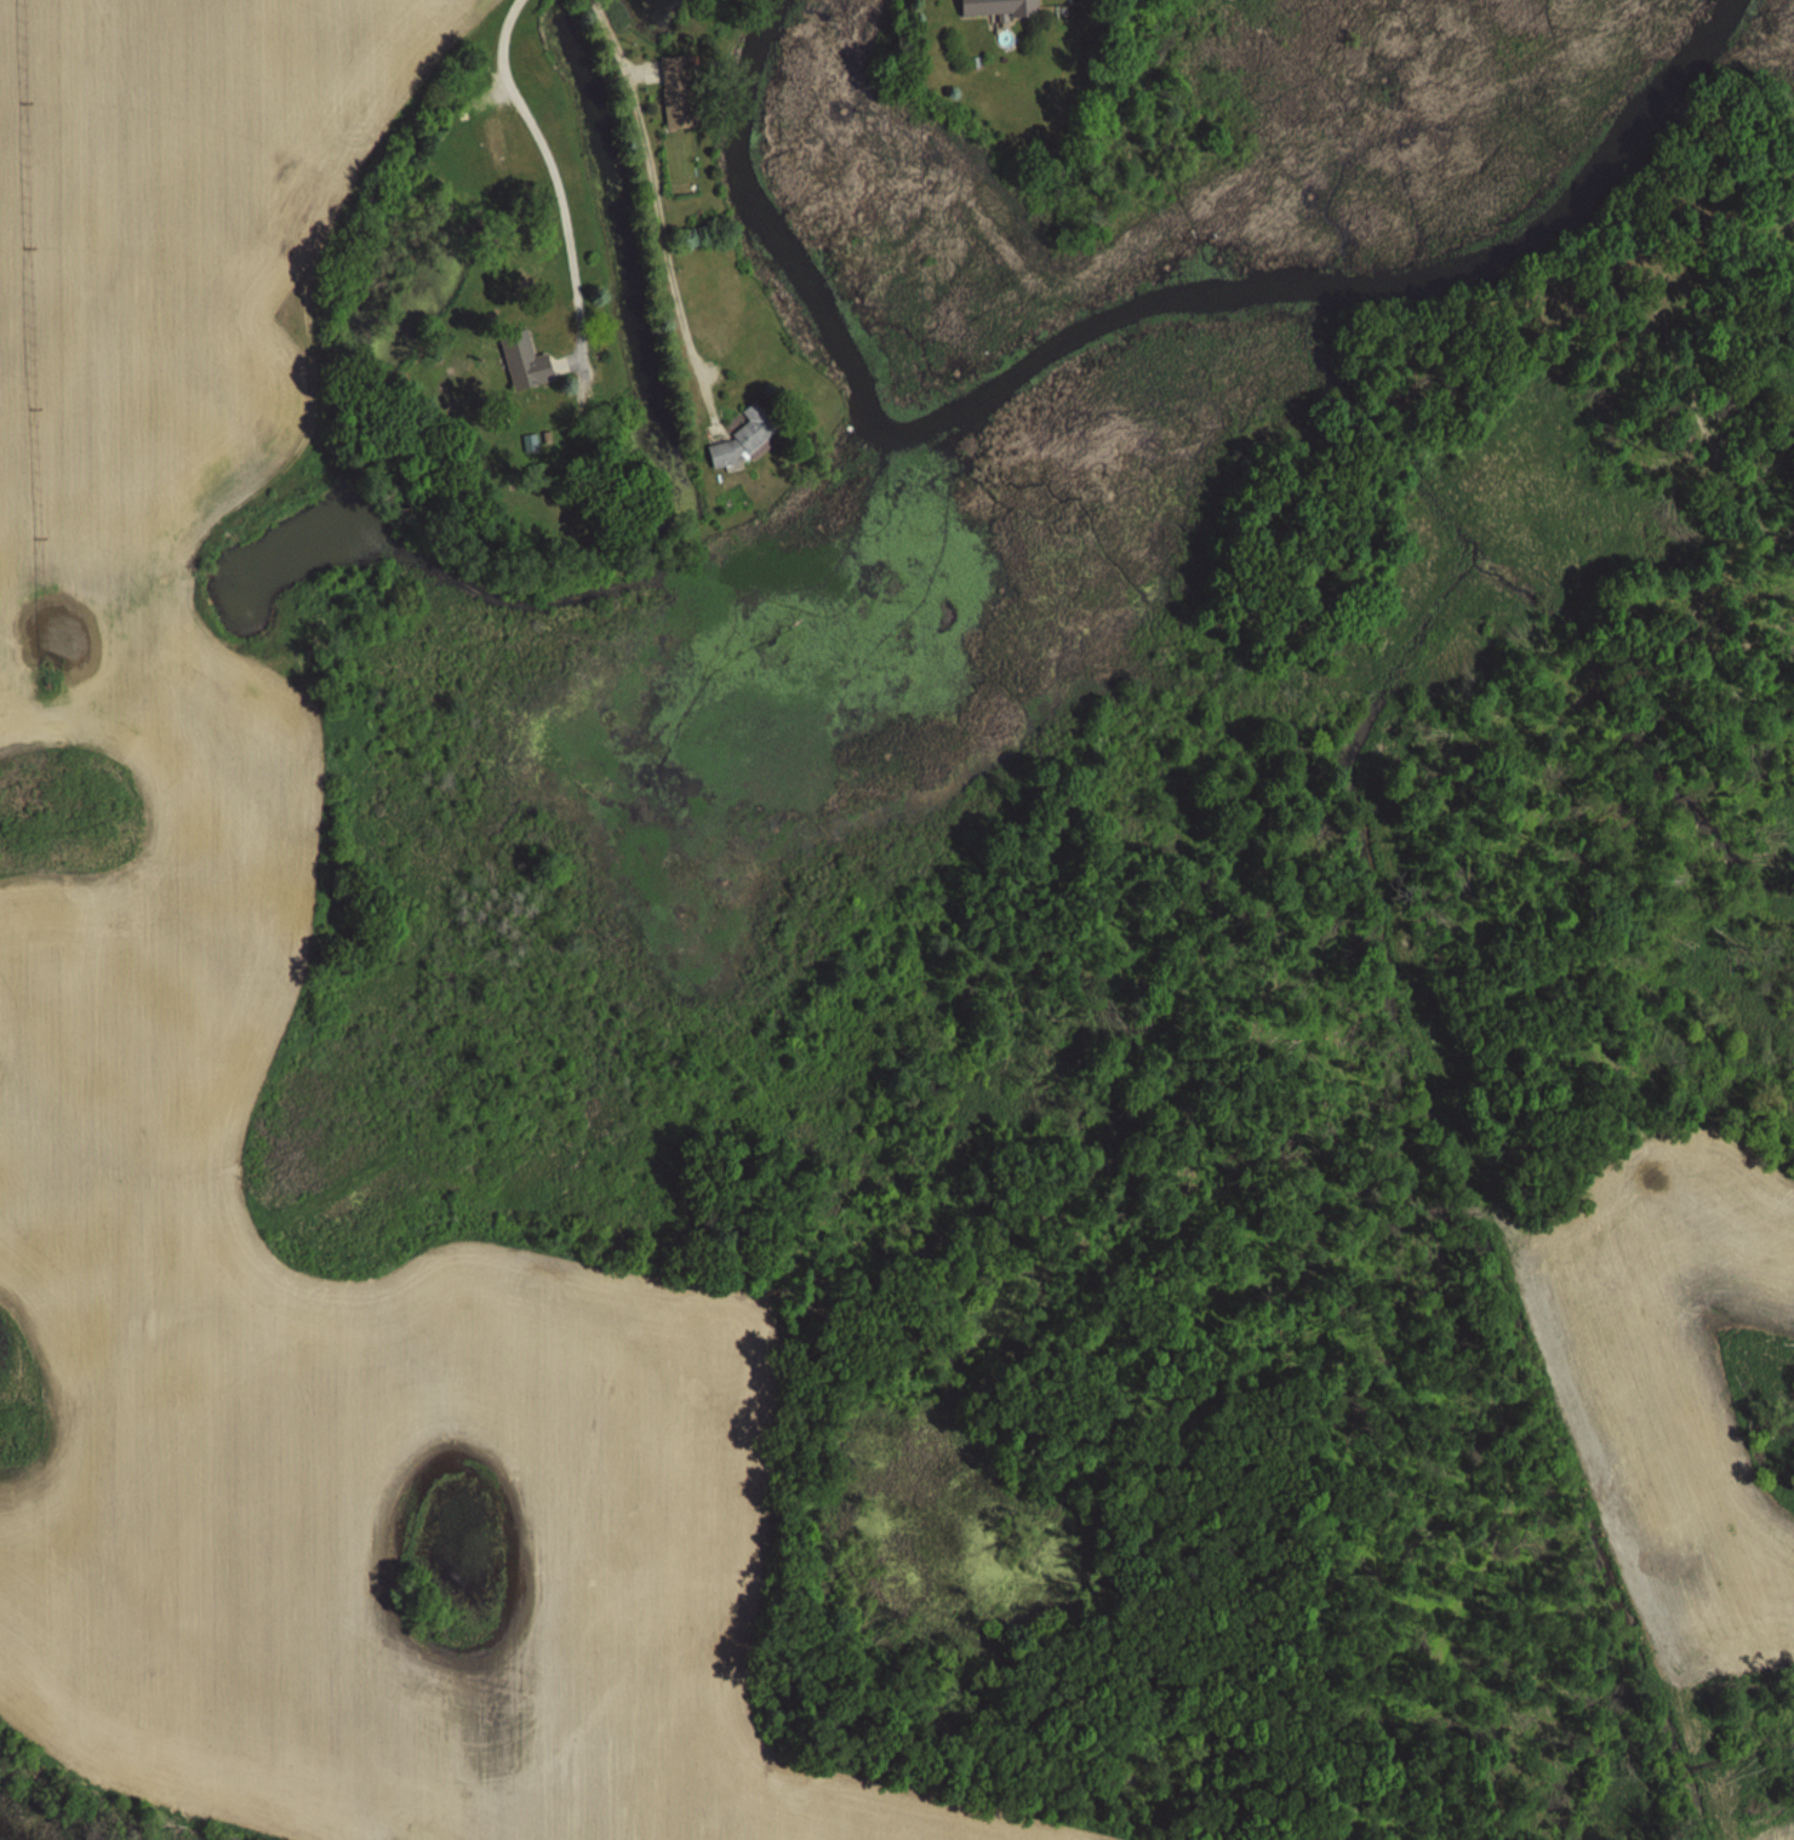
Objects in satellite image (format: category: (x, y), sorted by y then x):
building: (999, 7)
building: (676, 95)
road: (636, 113)
building: (496, 145)
road: (556, 184)
river: (1116, 315)
road: (684, 326)
building: (525, 361)

